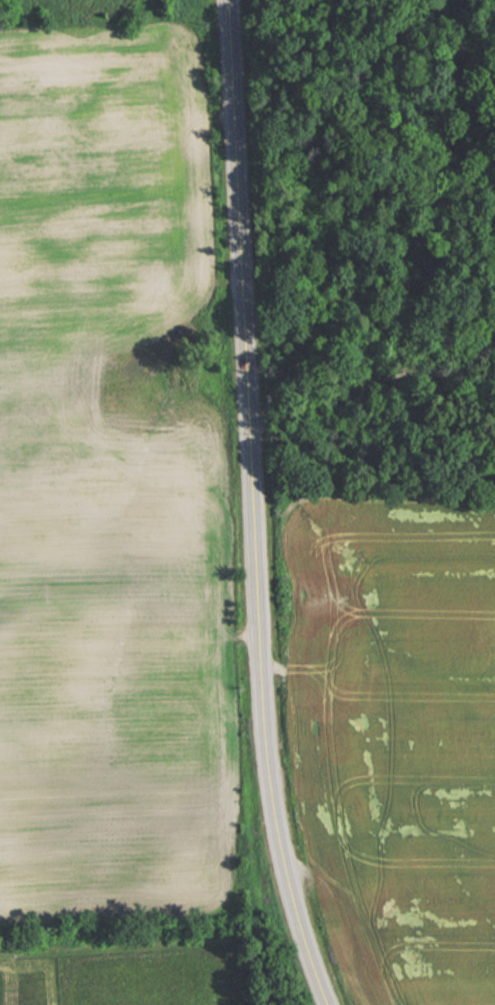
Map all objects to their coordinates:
road: (372, 383)
road: (251, 506)

